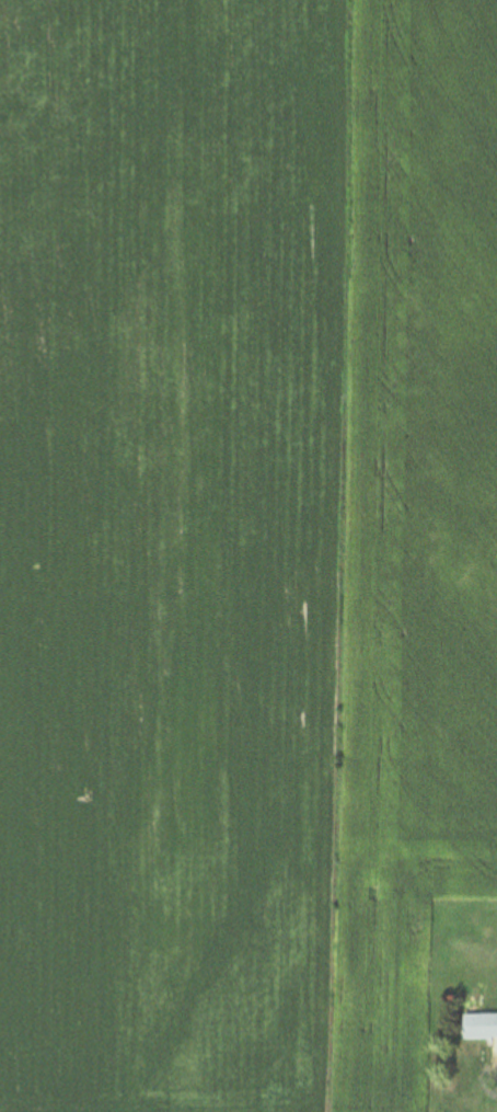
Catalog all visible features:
building: (479, 1027)
road: (496, 1061)

